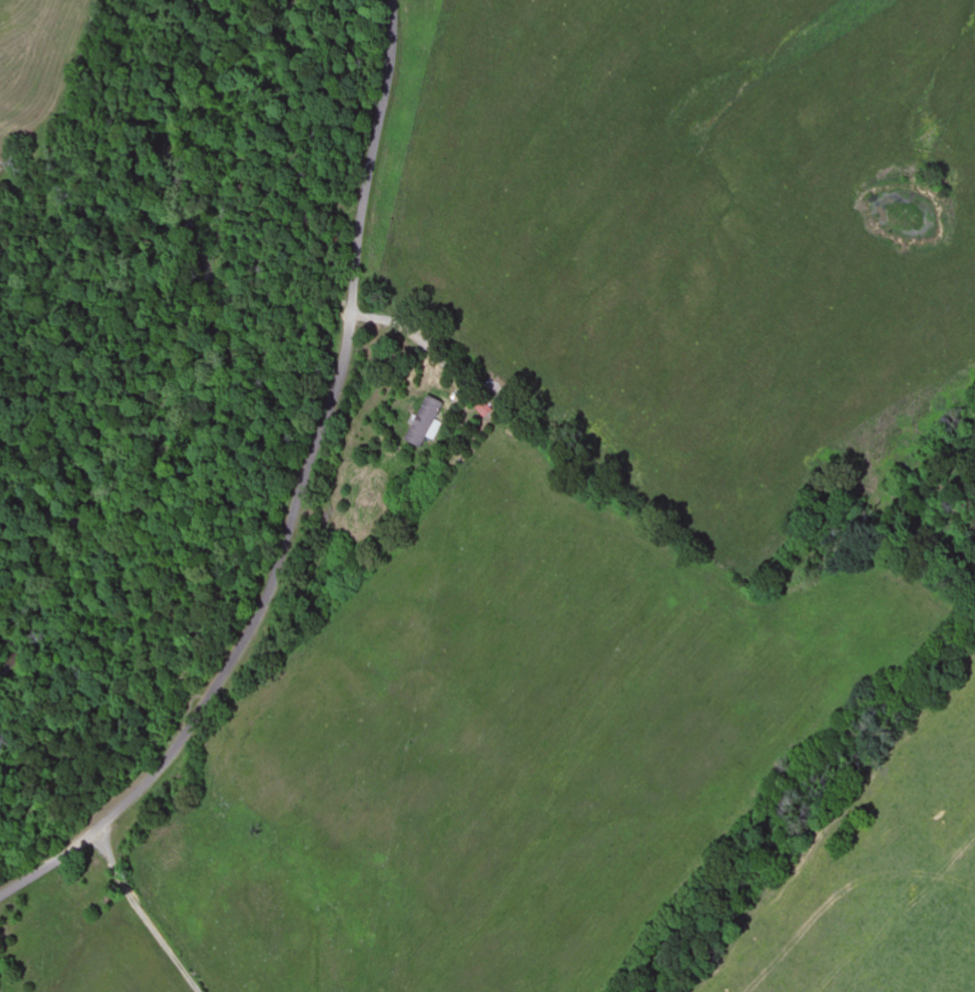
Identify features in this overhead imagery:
building: (424, 421)
road: (300, 499)

